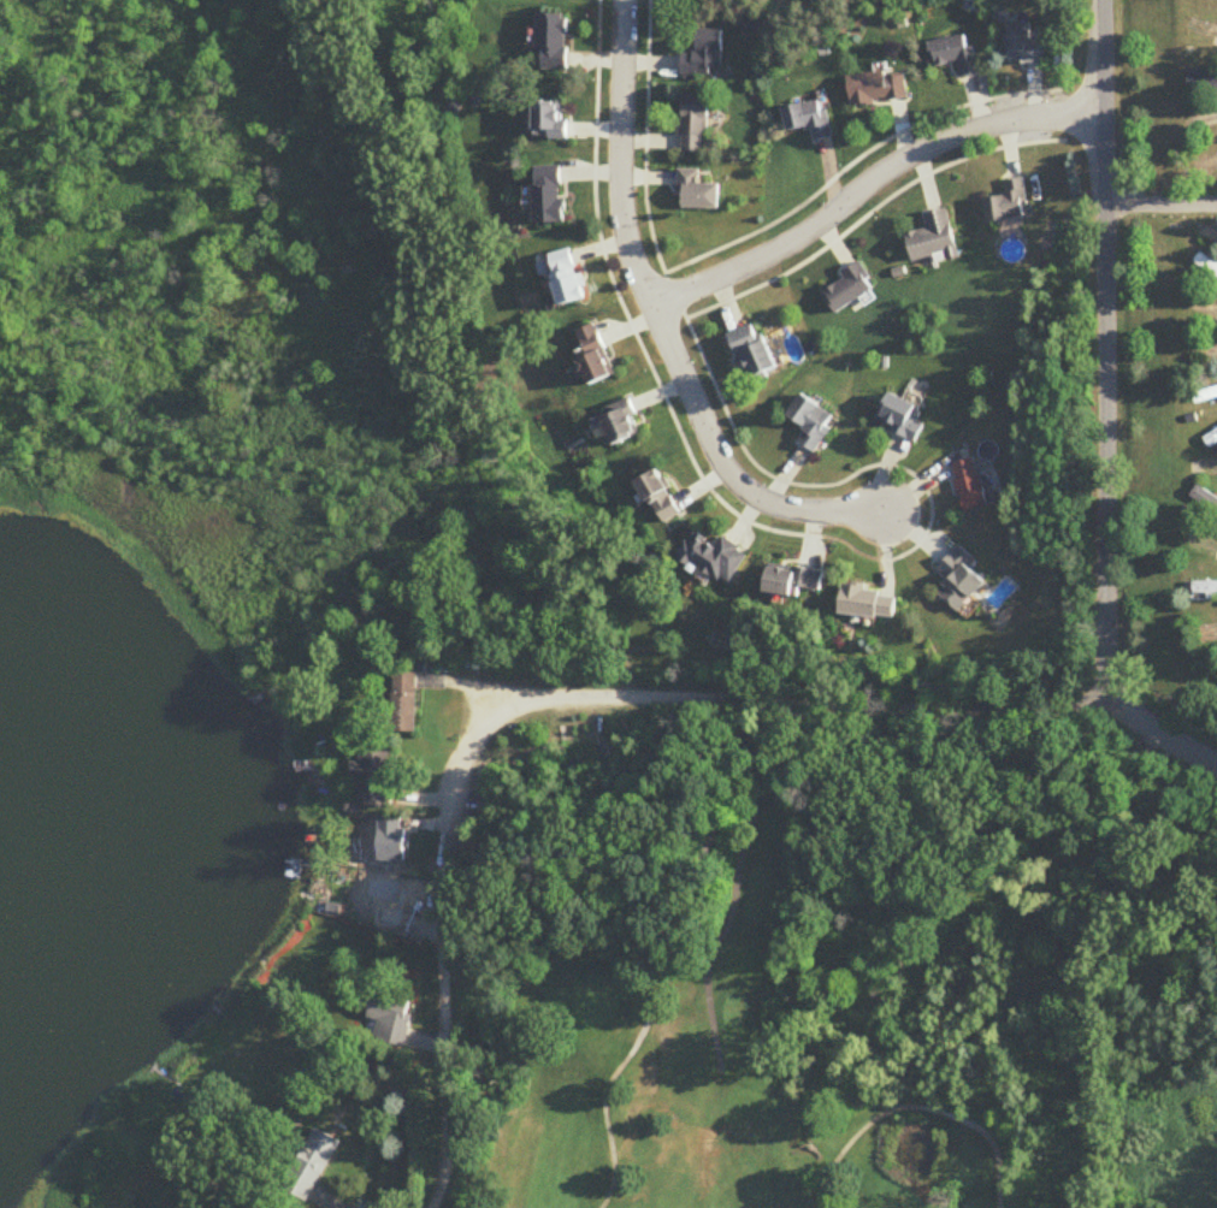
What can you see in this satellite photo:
building: (680, 0)
building: (554, 42)
building: (1024, 46)
building: (957, 54)
building: (705, 57)
building: (1203, 84)
building: (878, 88)
building: (809, 119)
building: (549, 120)
building: (693, 124)
road: (867, 183)
building: (695, 193)
building: (550, 196)
building: (1008, 203)
road: (1162, 203)
building: (932, 238)
building: (1206, 266)
building: (569, 279)
building: (846, 290)
road: (661, 322)
road: (1106, 351)
building: (752, 354)
building: (596, 356)
building: (1205, 396)
building: (900, 418)
building: (813, 424)
building: (622, 427)
building: (1212, 440)
building: (969, 486)
building: (661, 499)
building: (1205, 499)
building: (1204, 544)
road: (1209, 553)
building: (716, 558)
building: (959, 580)
building: (794, 582)
building: (1205, 592)
building: (870, 605)
road: (548, 701)
building: (404, 704)
road: (1162, 736)
building: (377, 780)
building: (392, 840)
building: (392, 896)
park: (793, 1017)
building: (392, 1019)
building: (313, 1167)

